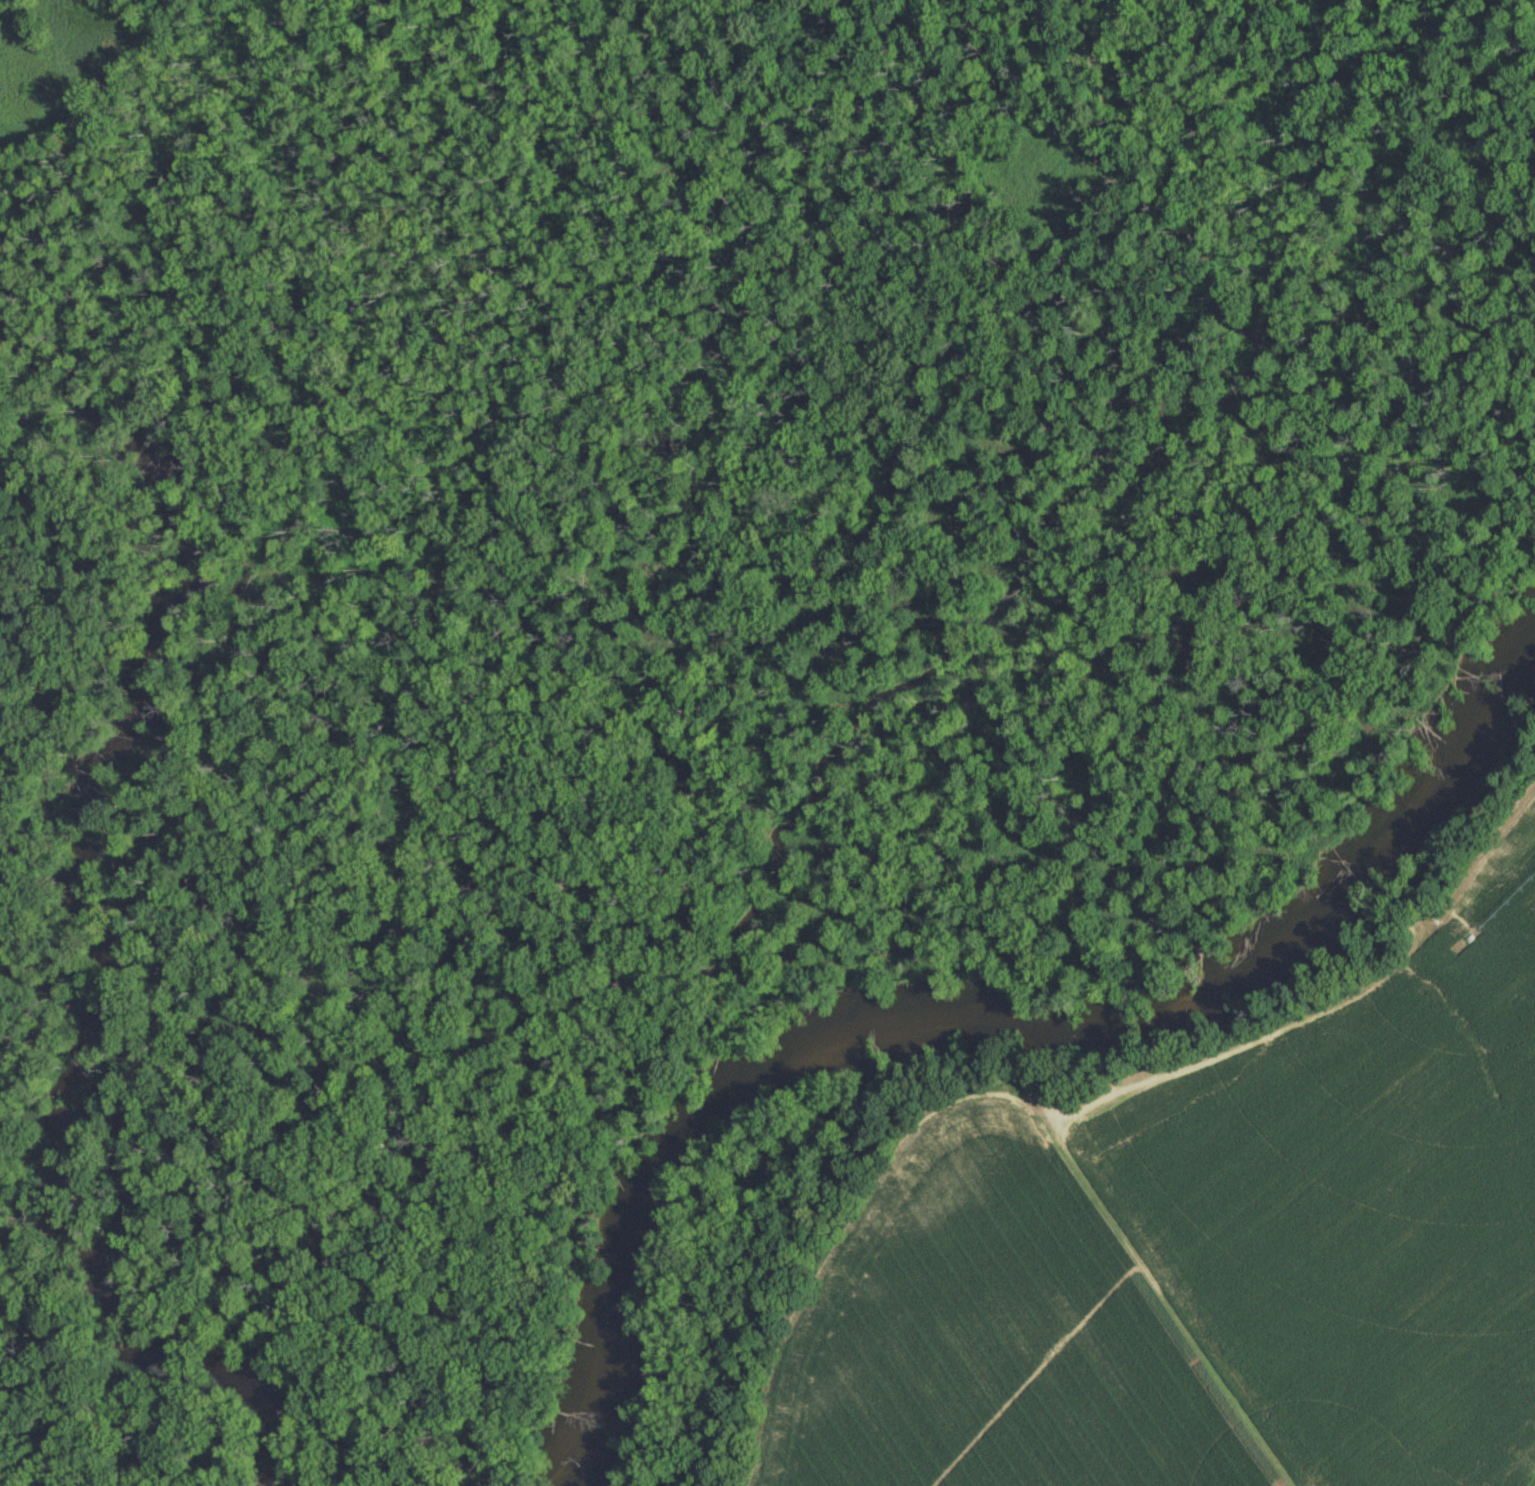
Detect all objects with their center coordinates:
river: (983, 1012)

